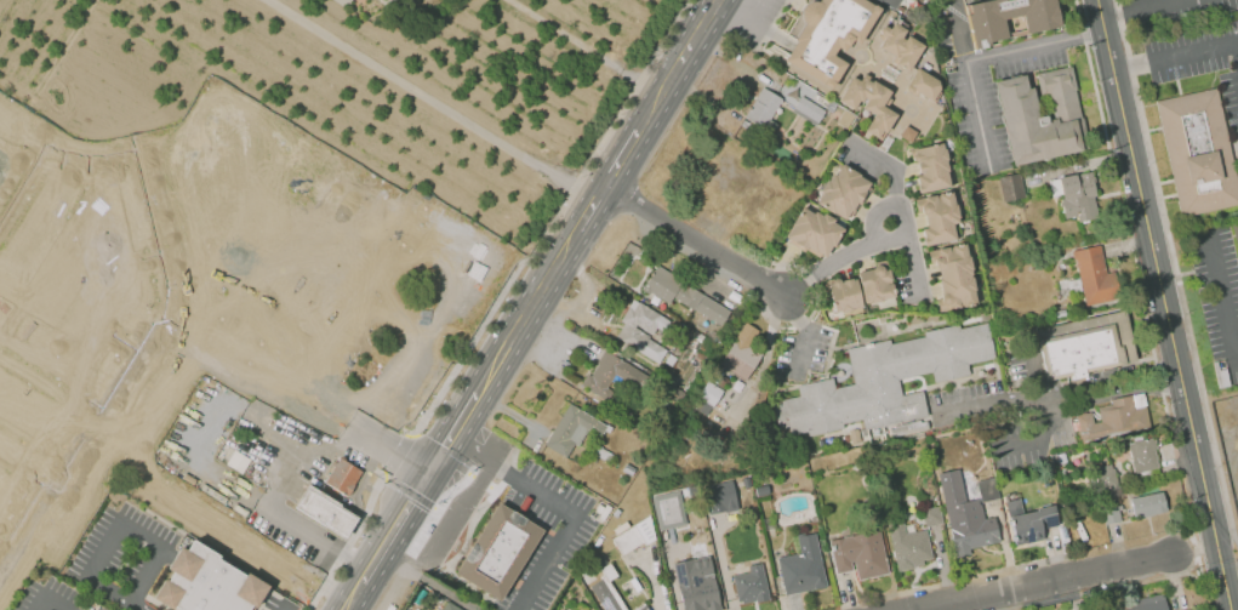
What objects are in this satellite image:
road: (1152, 1)
building: (346, 2)
building: (890, 2)
road: (1134, 6)
building: (1009, 17)
parking lot: (753, 18)
road: (87, 19)
building: (828, 36)
road: (588, 44)
road: (1037, 45)
building: (901, 46)
road: (1180, 52)
road: (731, 59)
parking lot: (1199, 59)
road: (678, 64)
building: (924, 84)
road: (972, 85)
parking lot: (979, 89)
road: (780, 90)
road: (433, 97)
building: (869, 103)
building: (764, 108)
building: (809, 110)
building: (1042, 115)
building: (908, 133)
building: (1199, 150)
road: (63, 152)
road: (622, 156)
road: (889, 163)
parking lot: (858, 164)
building: (932, 167)
building: (1011, 187)
road: (601, 189)
building: (844, 192)
road: (27, 195)
building: (1077, 195)
road: (588, 212)
building: (937, 218)
road: (553, 220)
road: (906, 224)
building: (814, 232)
building: (1236, 233)
road: (696, 239)
road: (844, 257)
road: (1179, 267)
building: (1094, 274)
building: (953, 277)
building: (877, 283)
parking lot: (905, 286)
building: (684, 293)
building: (845, 295)
road: (1223, 300)
road: (1168, 304)
building: (644, 330)
road: (808, 333)
building: (1089, 346)
building: (742, 353)
parking lot: (804, 353)
parking lot: (1016, 361)
road: (257, 366)
road: (125, 372)
building: (615, 375)
road: (35, 378)
building: (884, 381)
parking lot: (965, 392)
road: (1113, 392)
road: (989, 404)
road: (1043, 411)
road: (461, 418)
building: (1117, 418)
building: (576, 431)
road: (392, 444)
road: (338, 447)
road: (396, 454)
building: (1143, 455)
parking lot: (1020, 457)
road: (29, 461)
traffic signals: (434, 467)
building: (342, 475)
building: (1106, 477)
building: (987, 489)
building: (761, 490)
building: (718, 496)
parking lot: (470, 501)
road: (564, 501)
building: (1148, 504)
building: (326, 509)
building: (668, 509)
road: (200, 511)
building: (932, 515)
building: (964, 515)
building: (1112, 515)
building: (1029, 520)
road: (121, 523)
parking lot: (548, 535)
building: (635, 536)
building: (730, 540)
building: (906, 540)
road: (349, 543)
parking lot: (125, 551)
building: (498, 551)
building: (858, 554)
building: (600, 560)
building: (803, 566)
road: (1046, 581)
building: (207, 582)
building: (751, 586)
building: (607, 589)
parking lot: (57, 594)
building: (696, 595)
road: (47, 599)
building: (1142, 603)
parking lot: (276, 604)
road: (136, 606)
building: (451, 606)
building: (640, 608)
building: (1185, 609)

